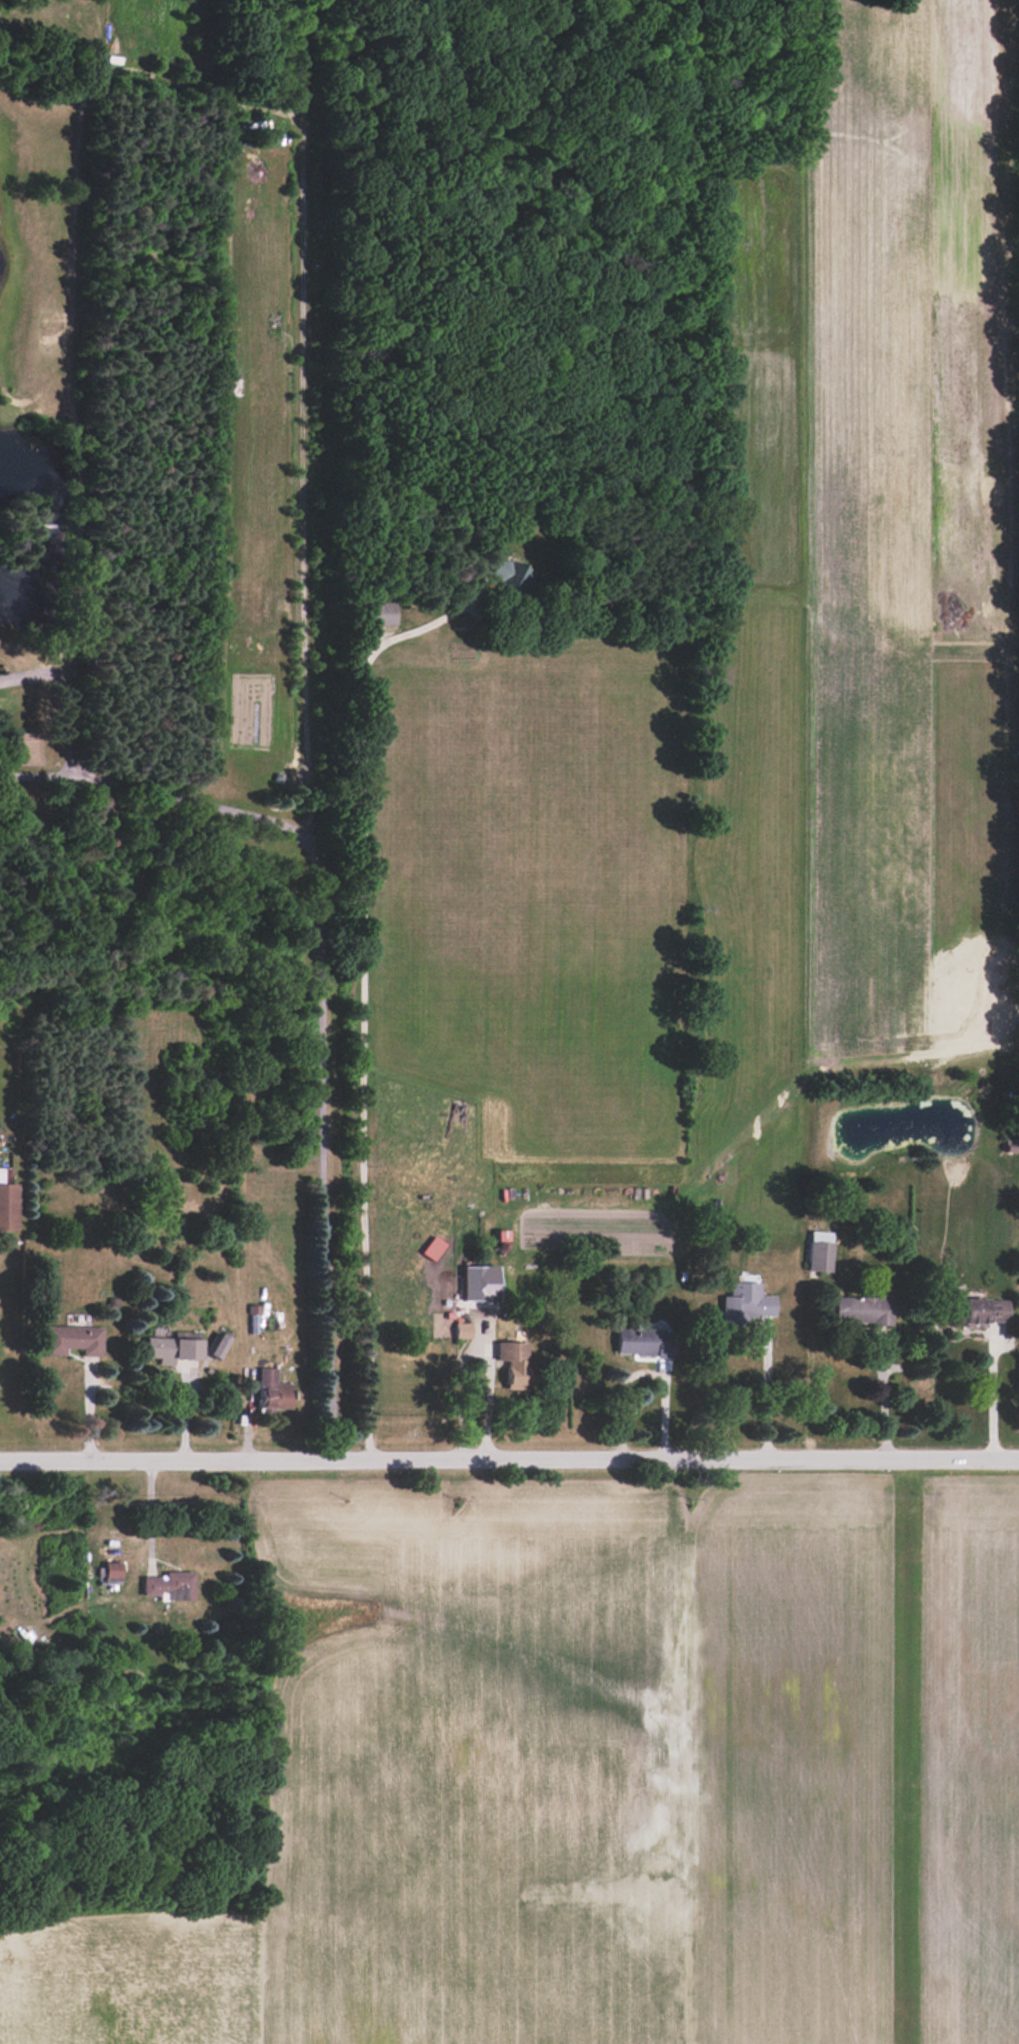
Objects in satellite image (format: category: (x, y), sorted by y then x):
building: (506, 573)
building: (376, 613)
road: (69, 727)
road: (363, 994)
road: (323, 1025)
building: (7, 1200)
building: (819, 1251)
building: (479, 1283)
building: (745, 1303)
building: (860, 1309)
building: (983, 1311)
building: (462, 1330)
building: (72, 1340)
building: (644, 1341)
building: (218, 1346)
building: (173, 1348)
road: (475, 1350)
building: (513, 1362)
building: (272, 1390)
road: (764, 1393)
road: (991, 1396)
road: (881, 1401)
road: (509, 1460)
road: (151, 1514)
building: (112, 1570)
building: (170, 1585)
airport runway: (906, 1762)

